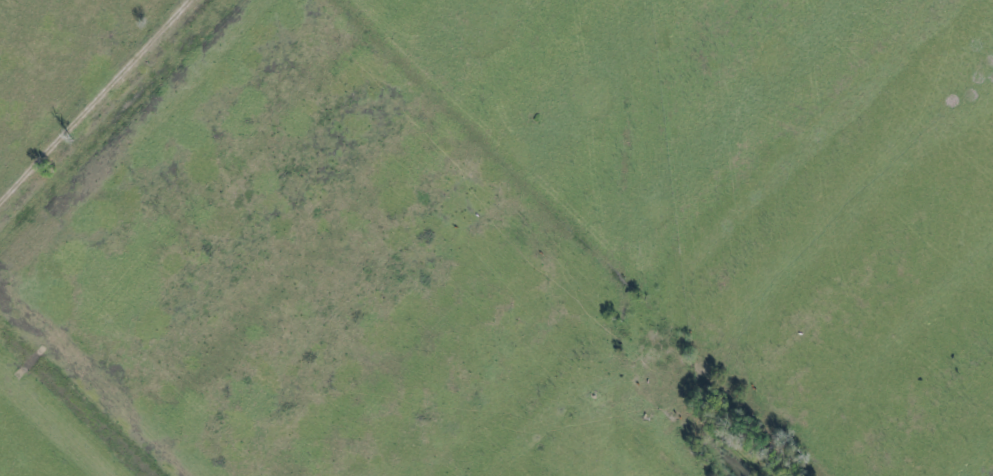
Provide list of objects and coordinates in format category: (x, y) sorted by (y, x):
road: (100, 108)

